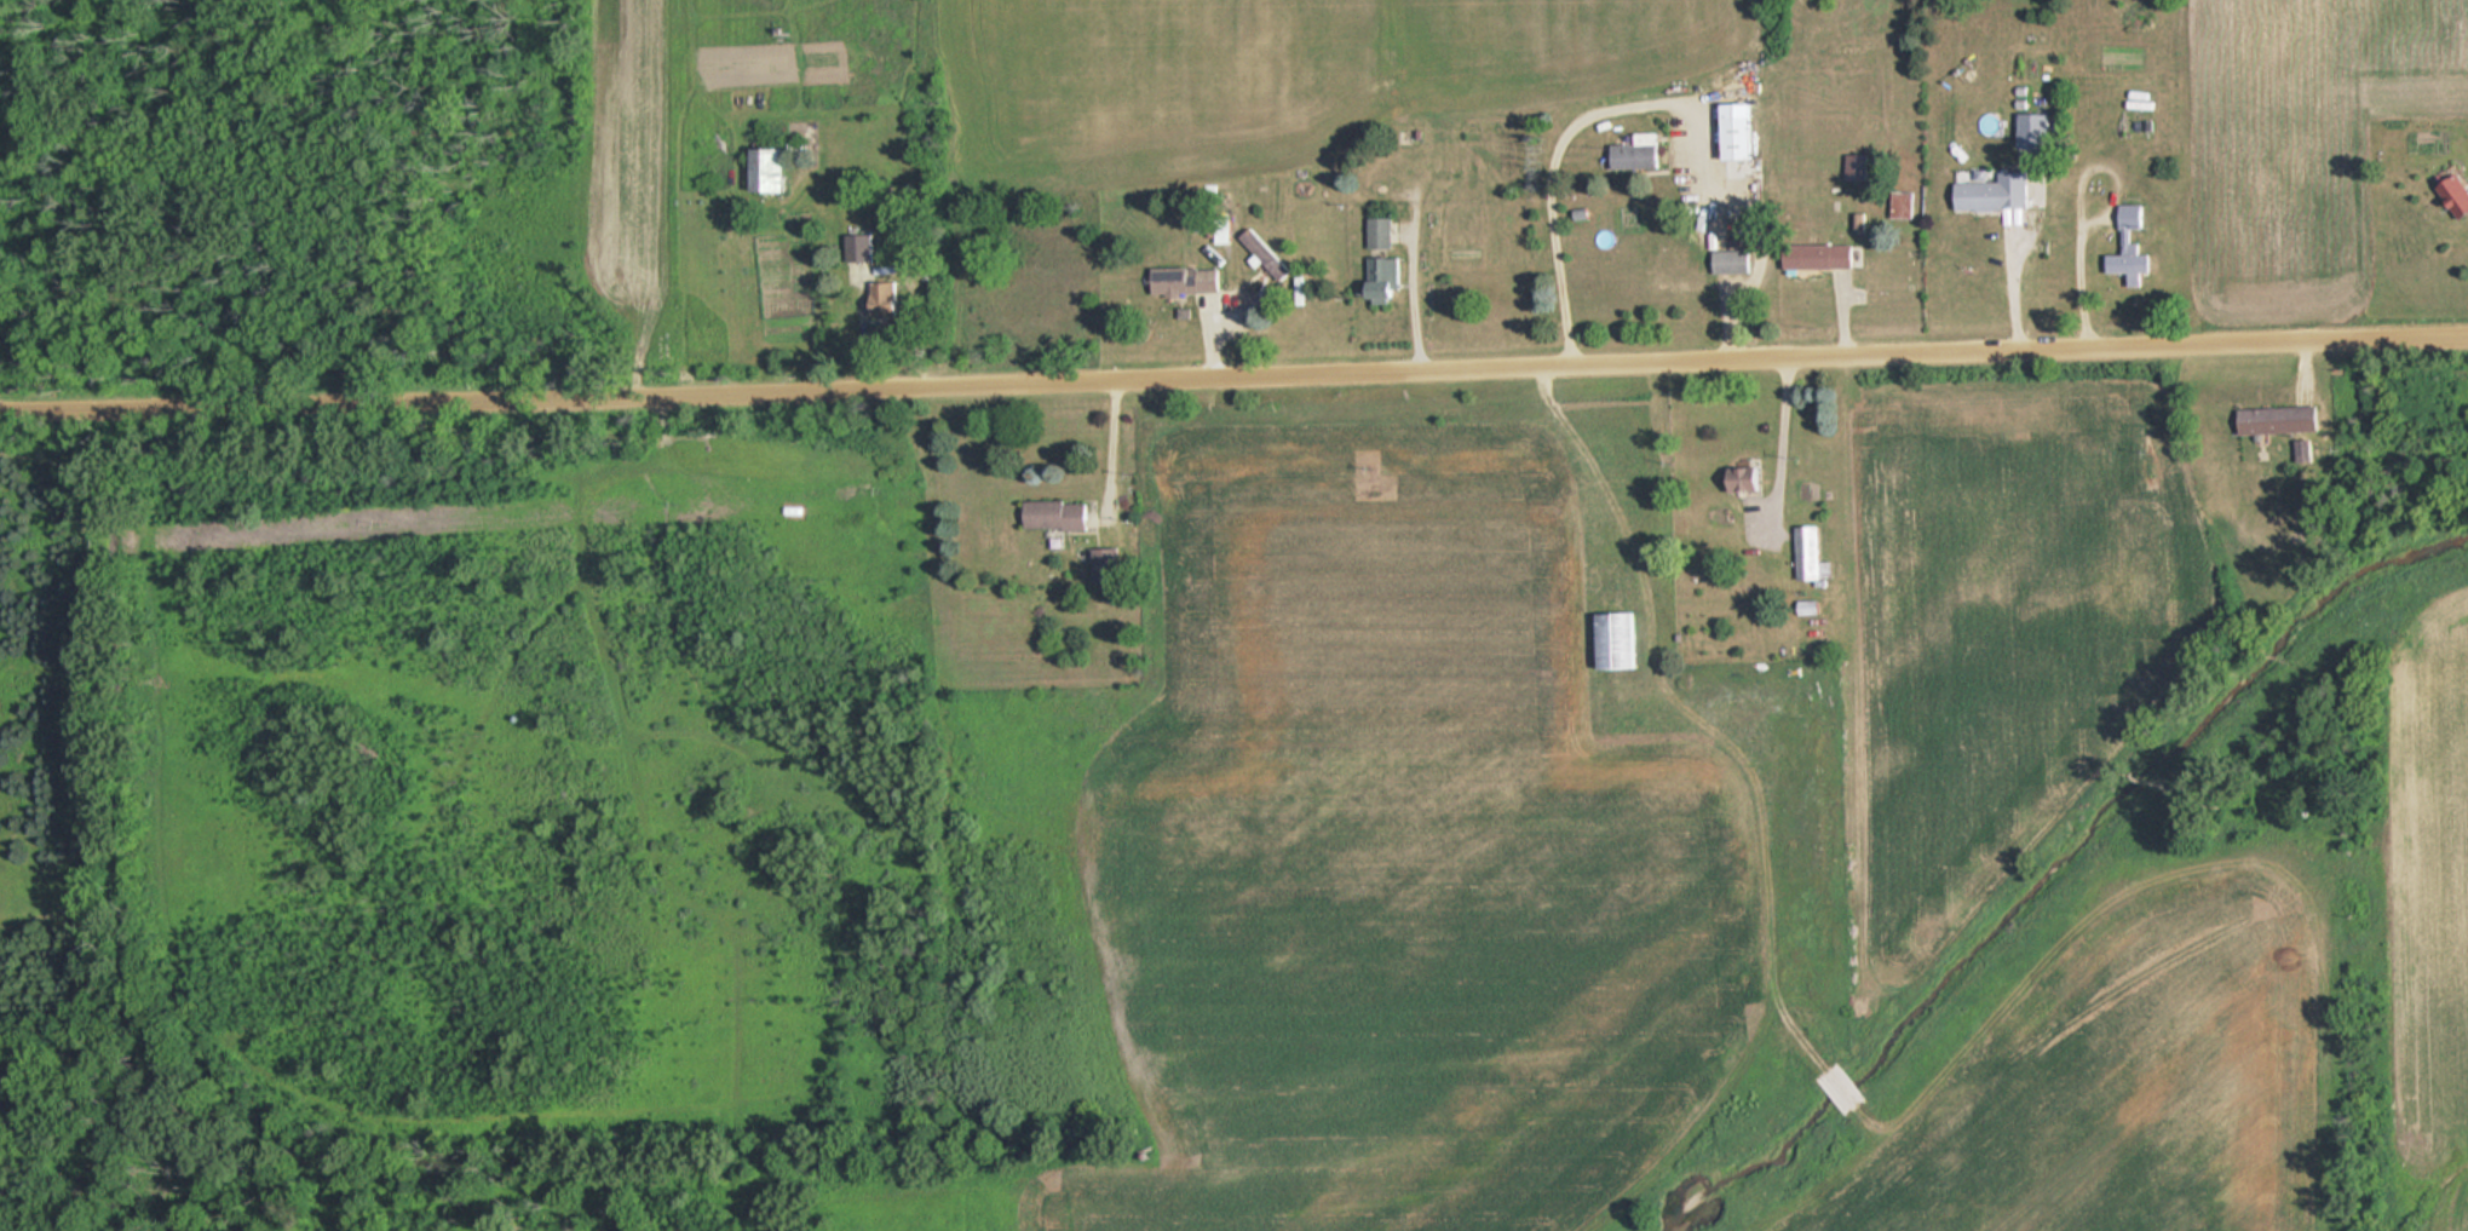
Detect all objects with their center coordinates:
building: (2040, 130)
building: (1744, 138)
building: (1639, 154)
building: (1859, 167)
building: (775, 168)
building: (1997, 192)
building: (2133, 245)
building: (862, 248)
building: (1266, 251)
building: (1829, 257)
building: (1733, 261)
building: (1681, 272)
building: (1388, 277)
building: (1191, 280)
building: (887, 299)
road: (1233, 366)
building: (2283, 420)
building: (1750, 479)
building: (1060, 516)
building: (1814, 554)
building: (1109, 565)
building: (1813, 608)
river: (1, 1066)

